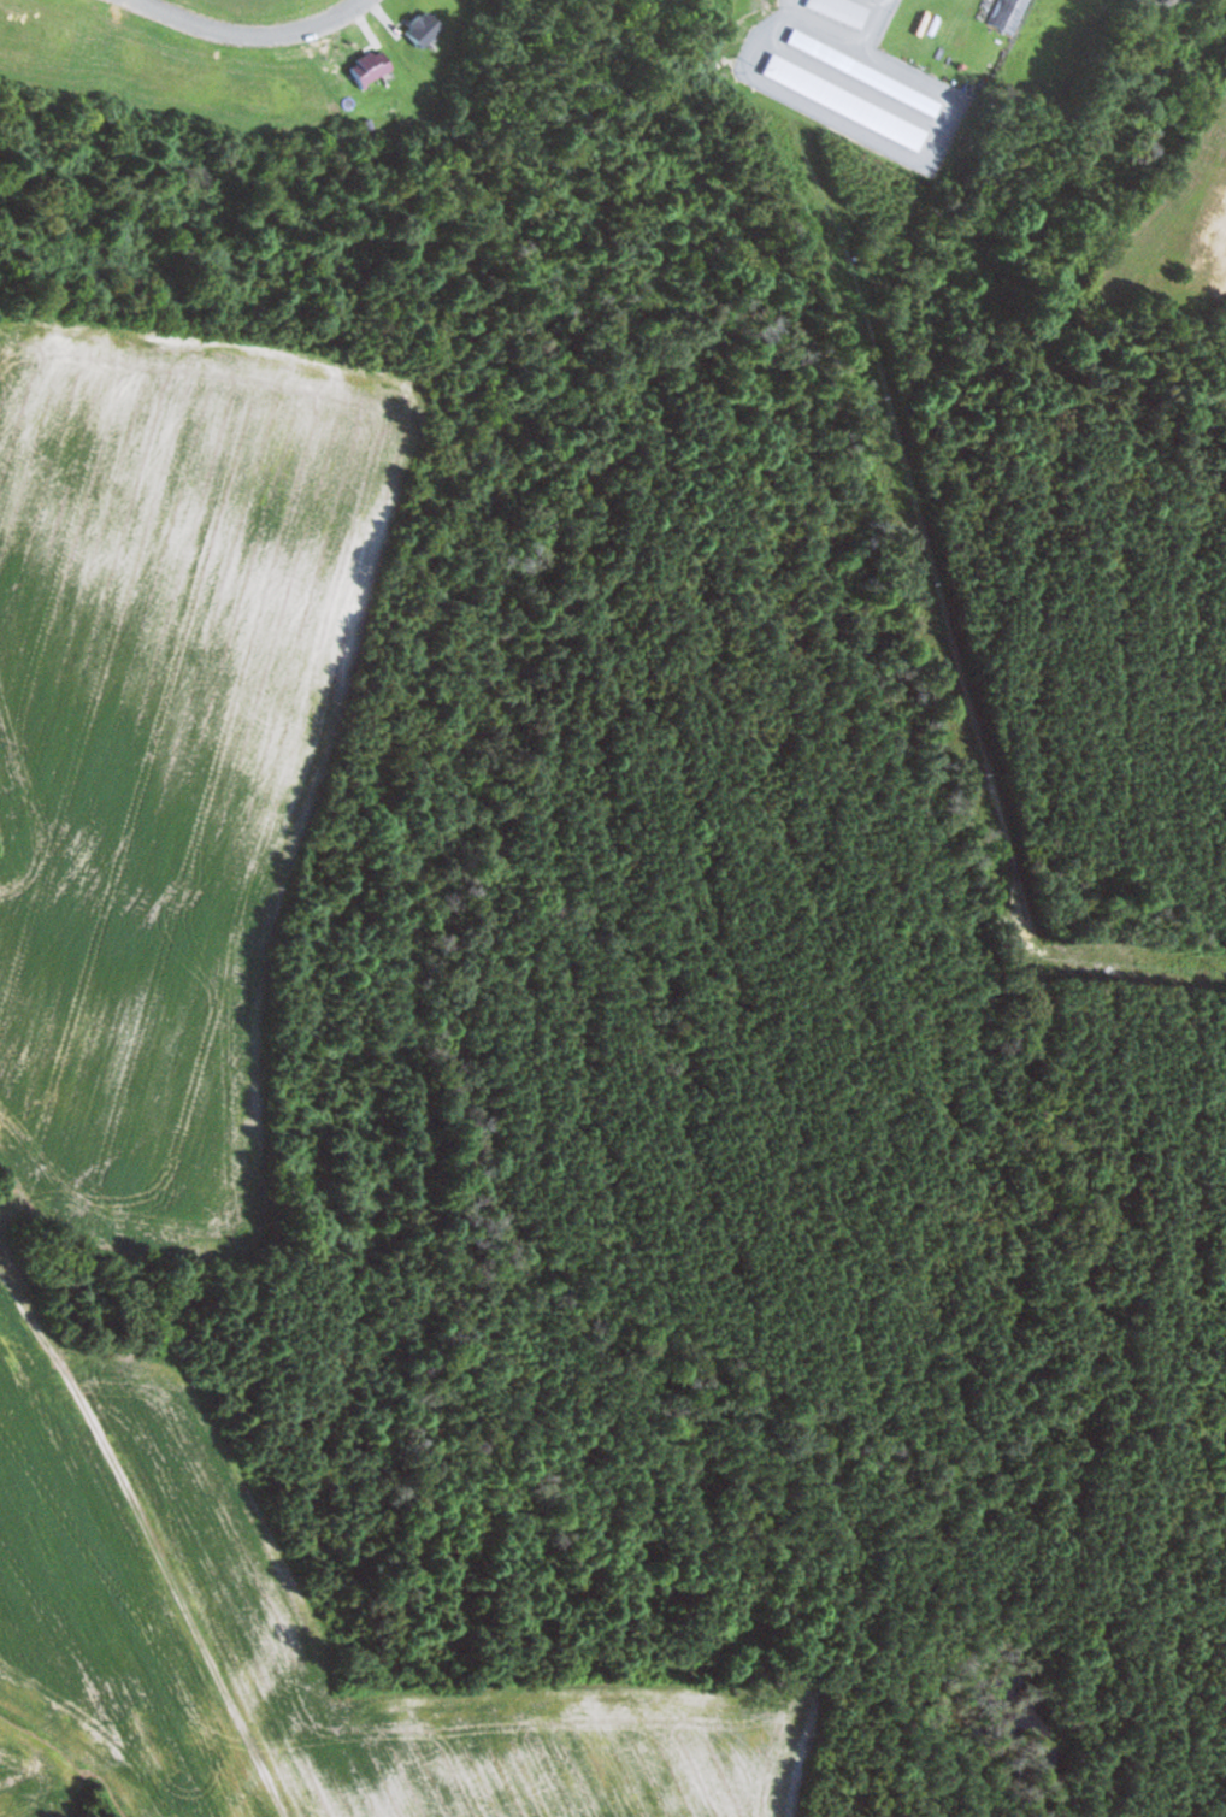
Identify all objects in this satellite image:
building: (842, 11)
building: (425, 28)
road: (248, 33)
building: (371, 66)
road: (132, 1516)

